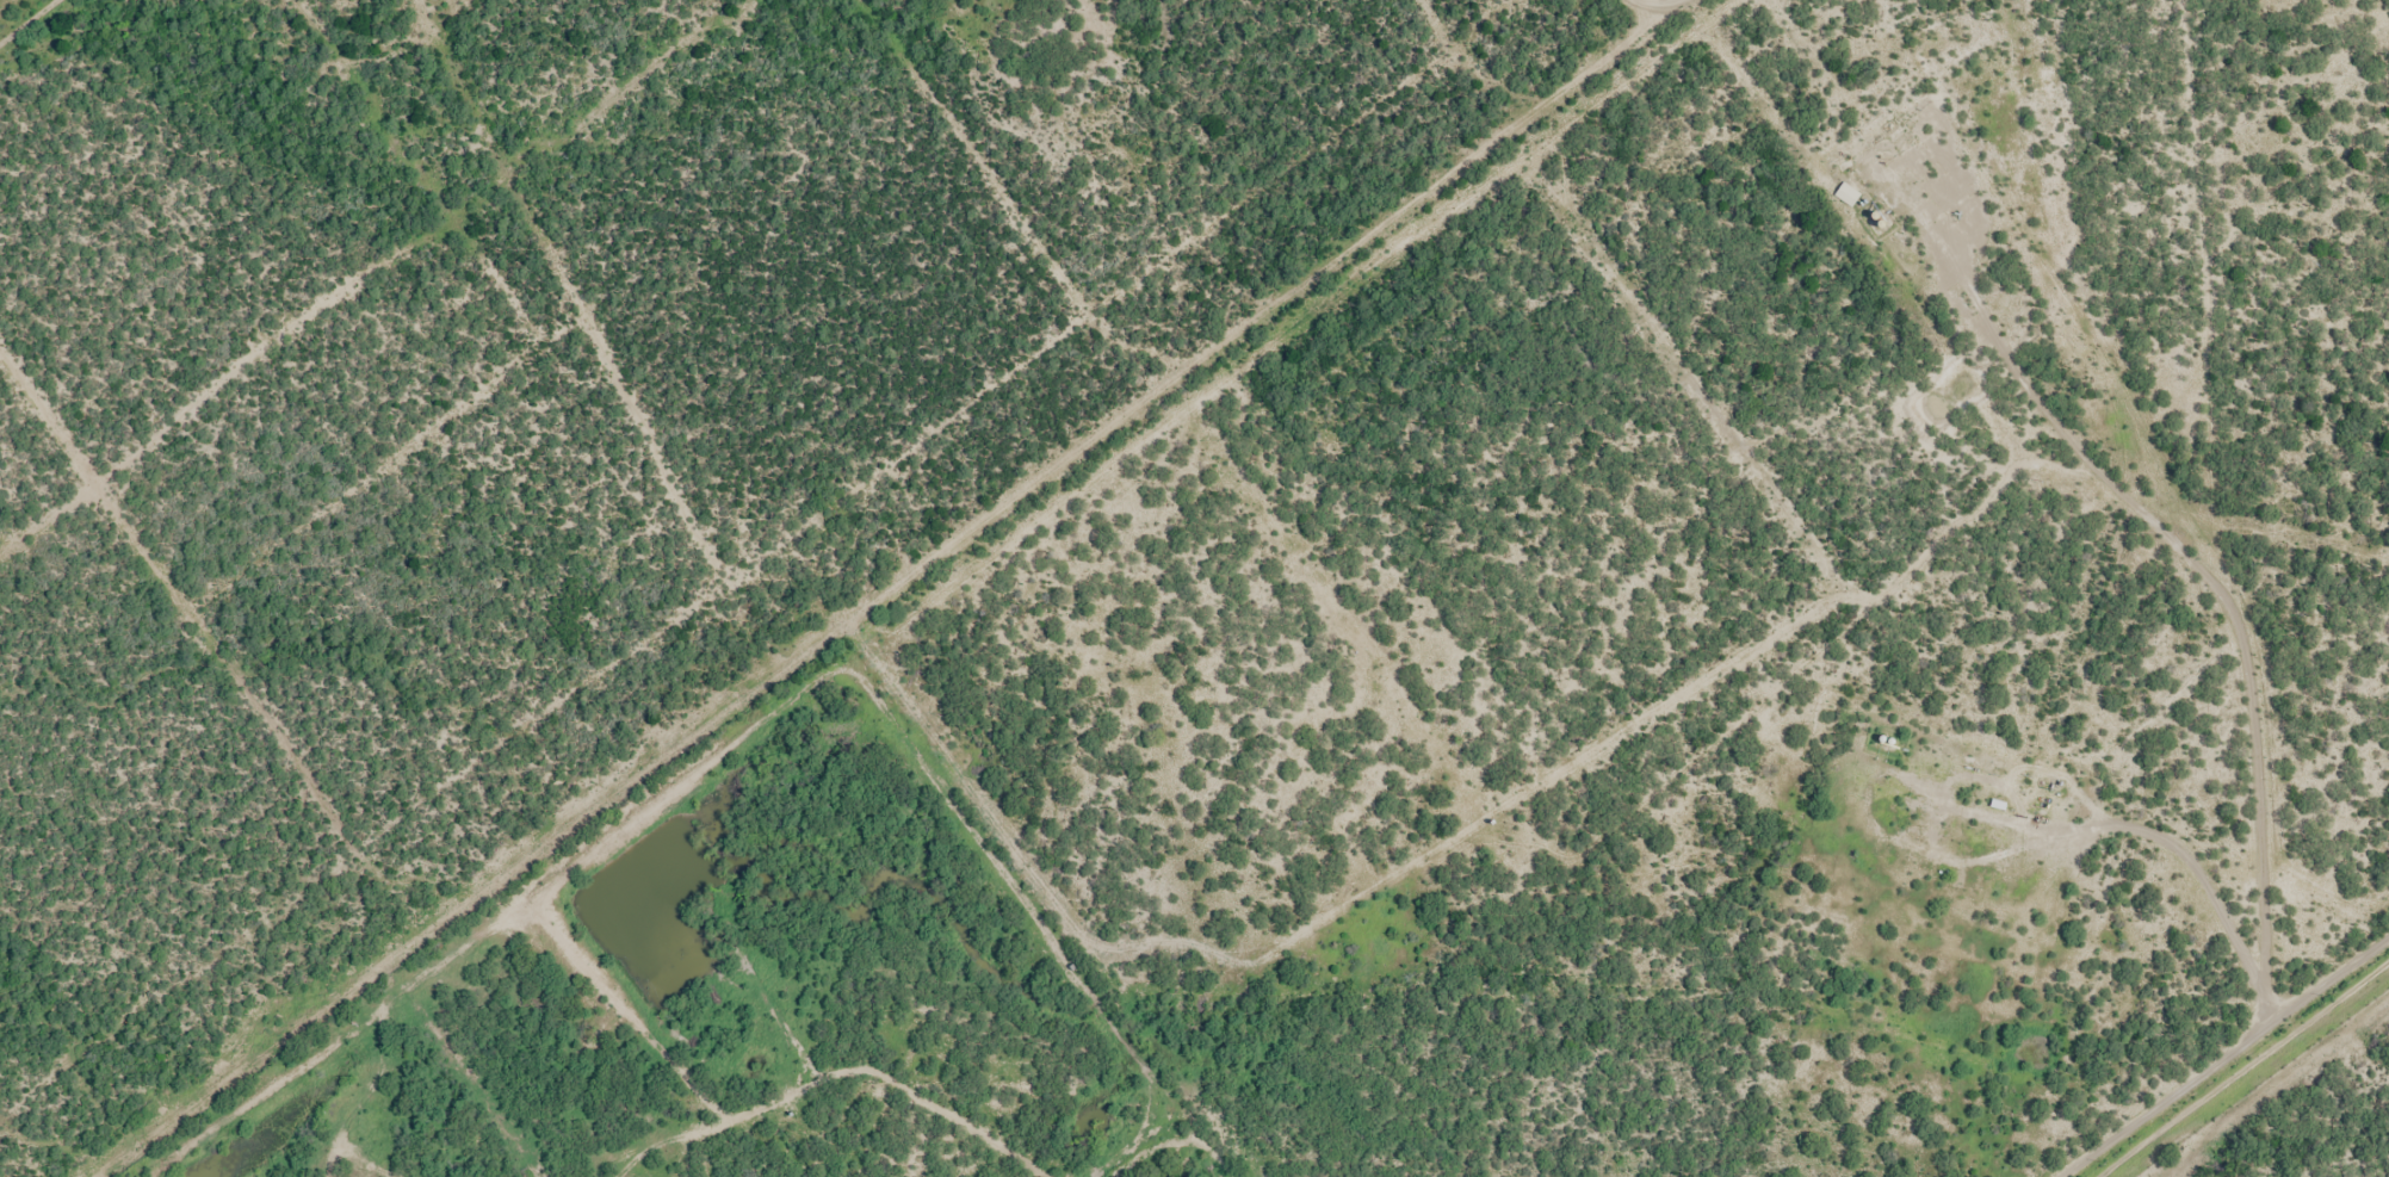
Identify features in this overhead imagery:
road: (2248, 1074)

